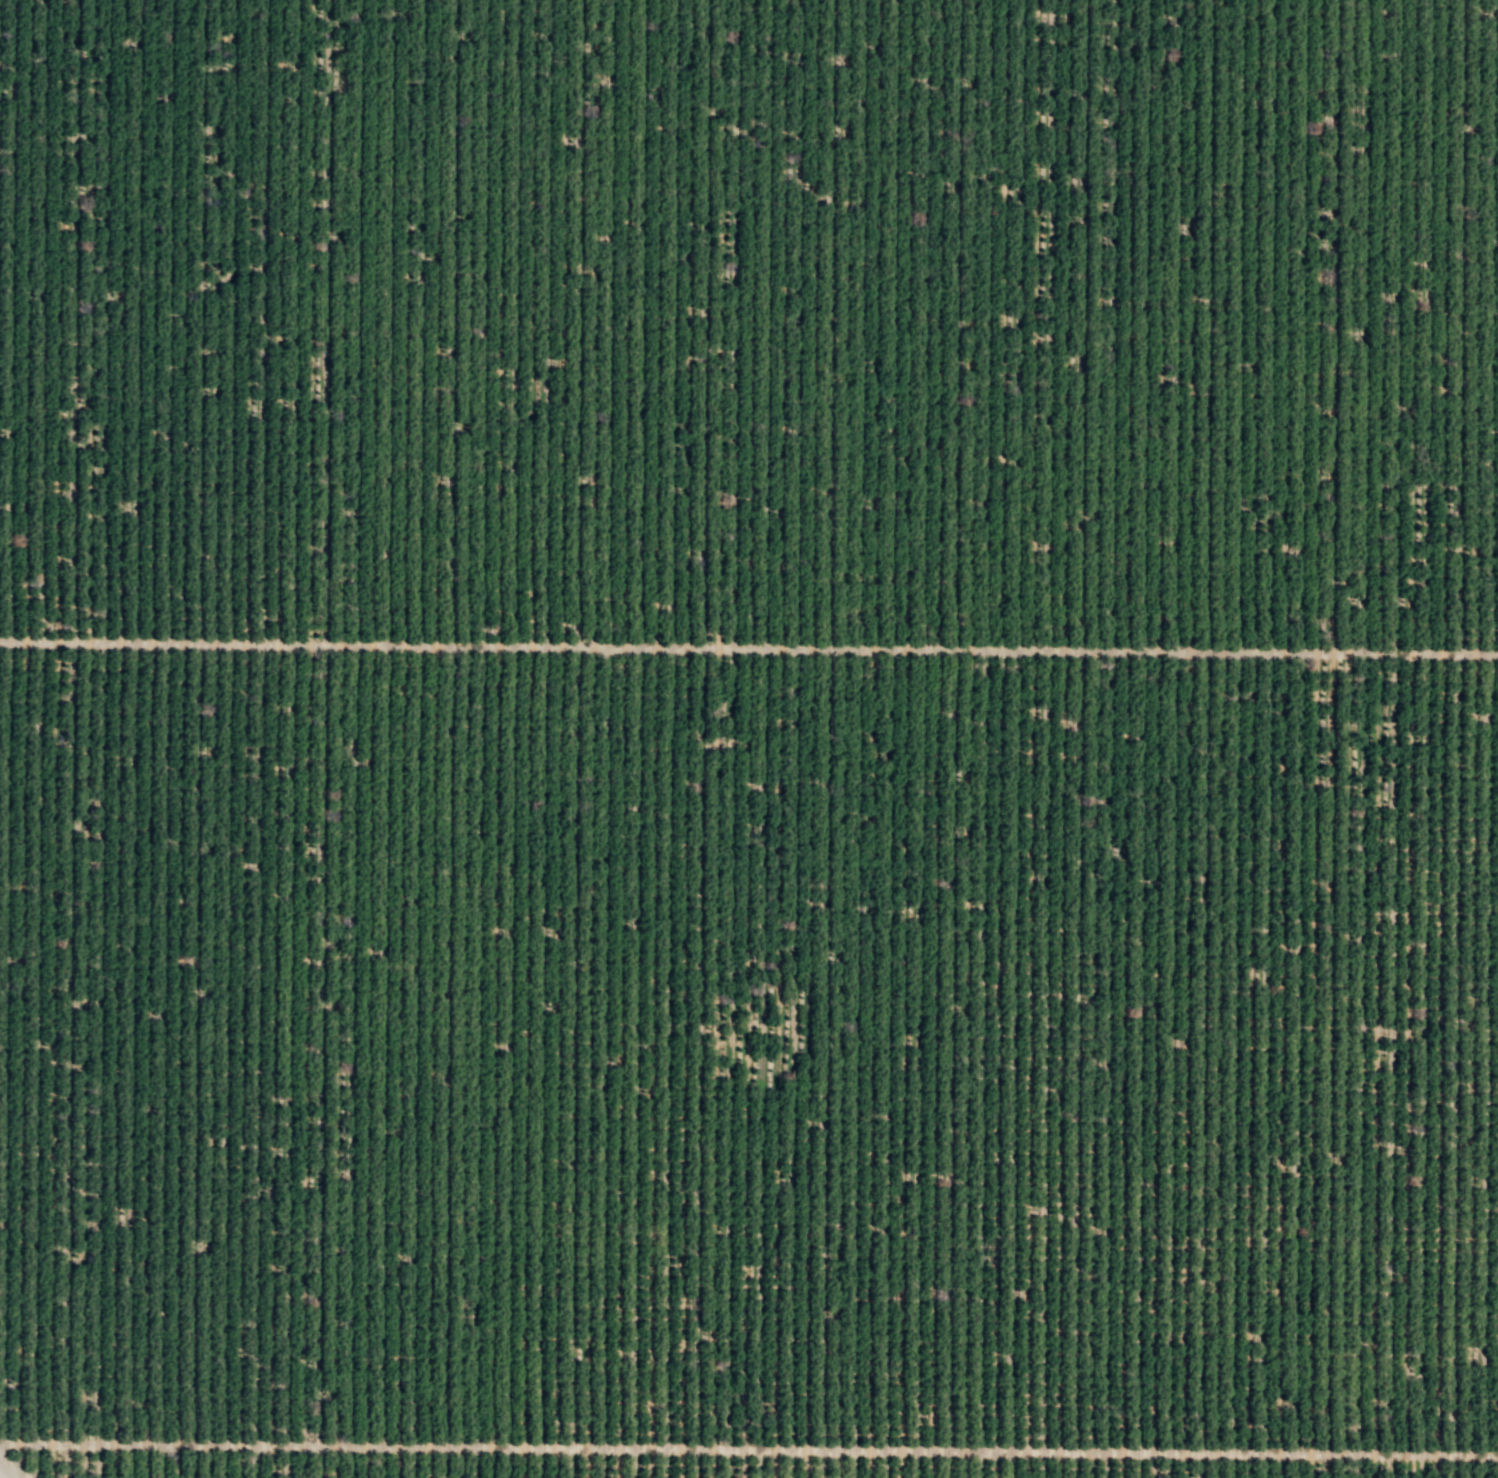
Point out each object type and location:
road: (749, 647)
road: (748, 1449)
road: (2, 1476)

